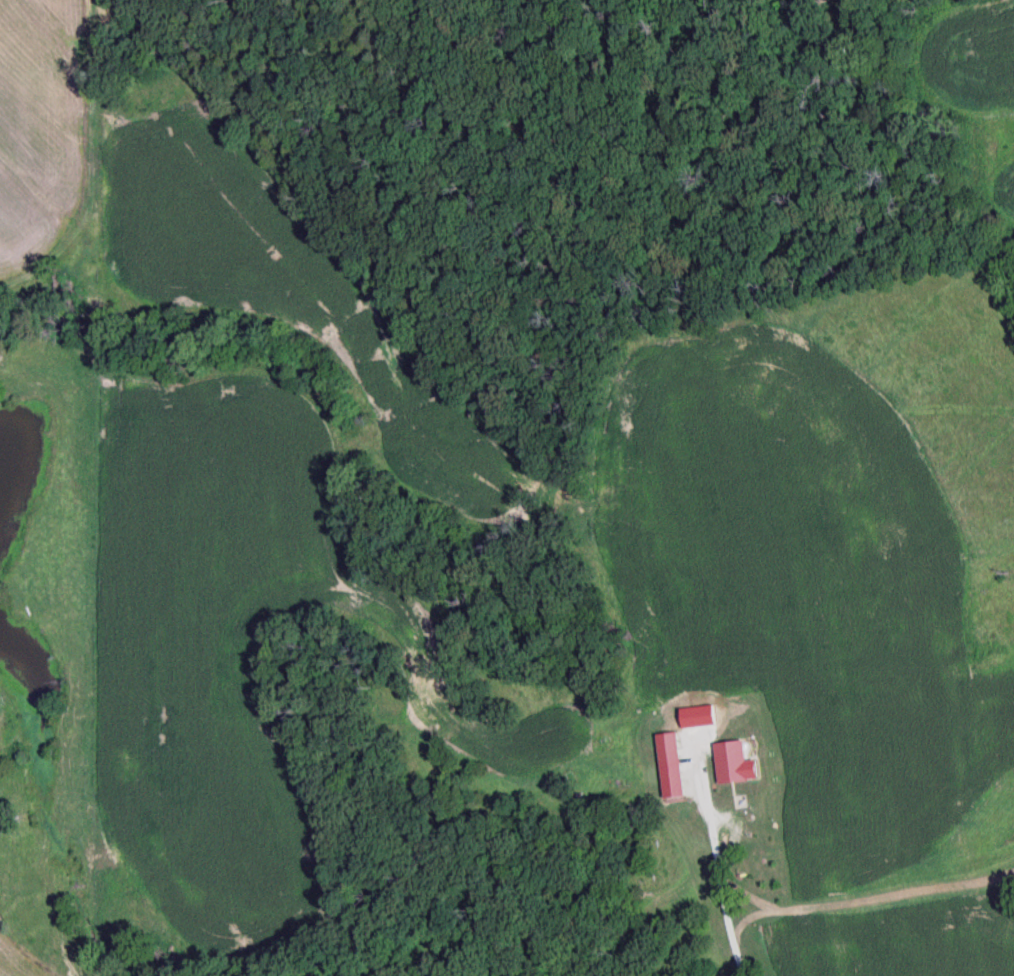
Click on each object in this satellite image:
building: (669, 752)
building: (731, 764)
building: (759, 883)
road: (173, 966)

